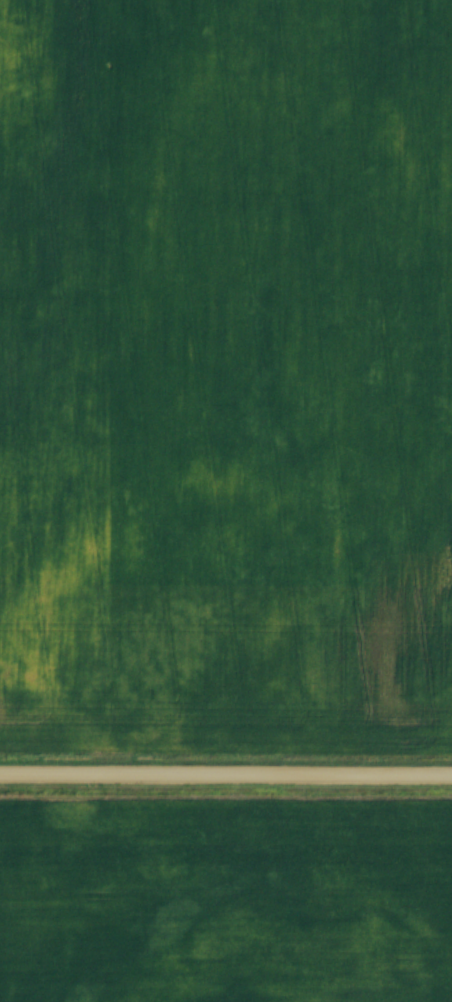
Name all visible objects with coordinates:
road: (226, 776)

